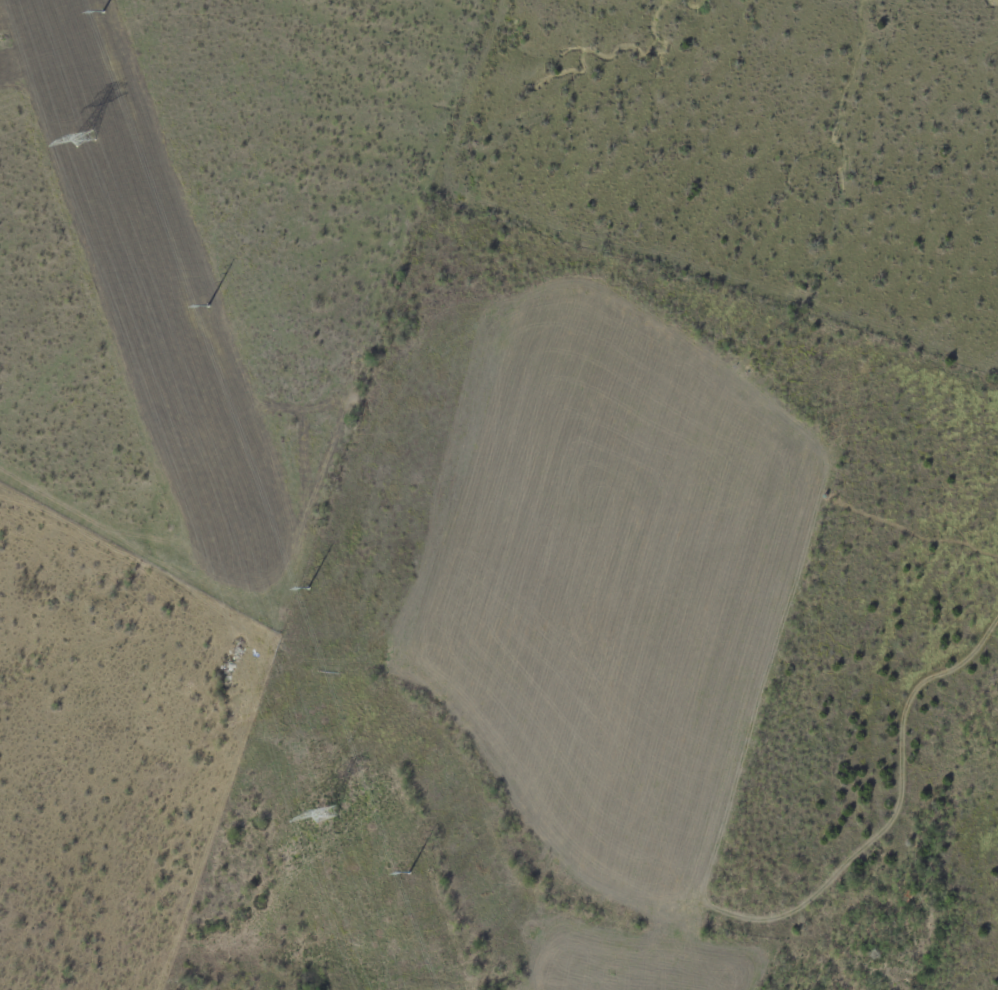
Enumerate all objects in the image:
power tower: (84, 140)
power tower: (323, 814)

